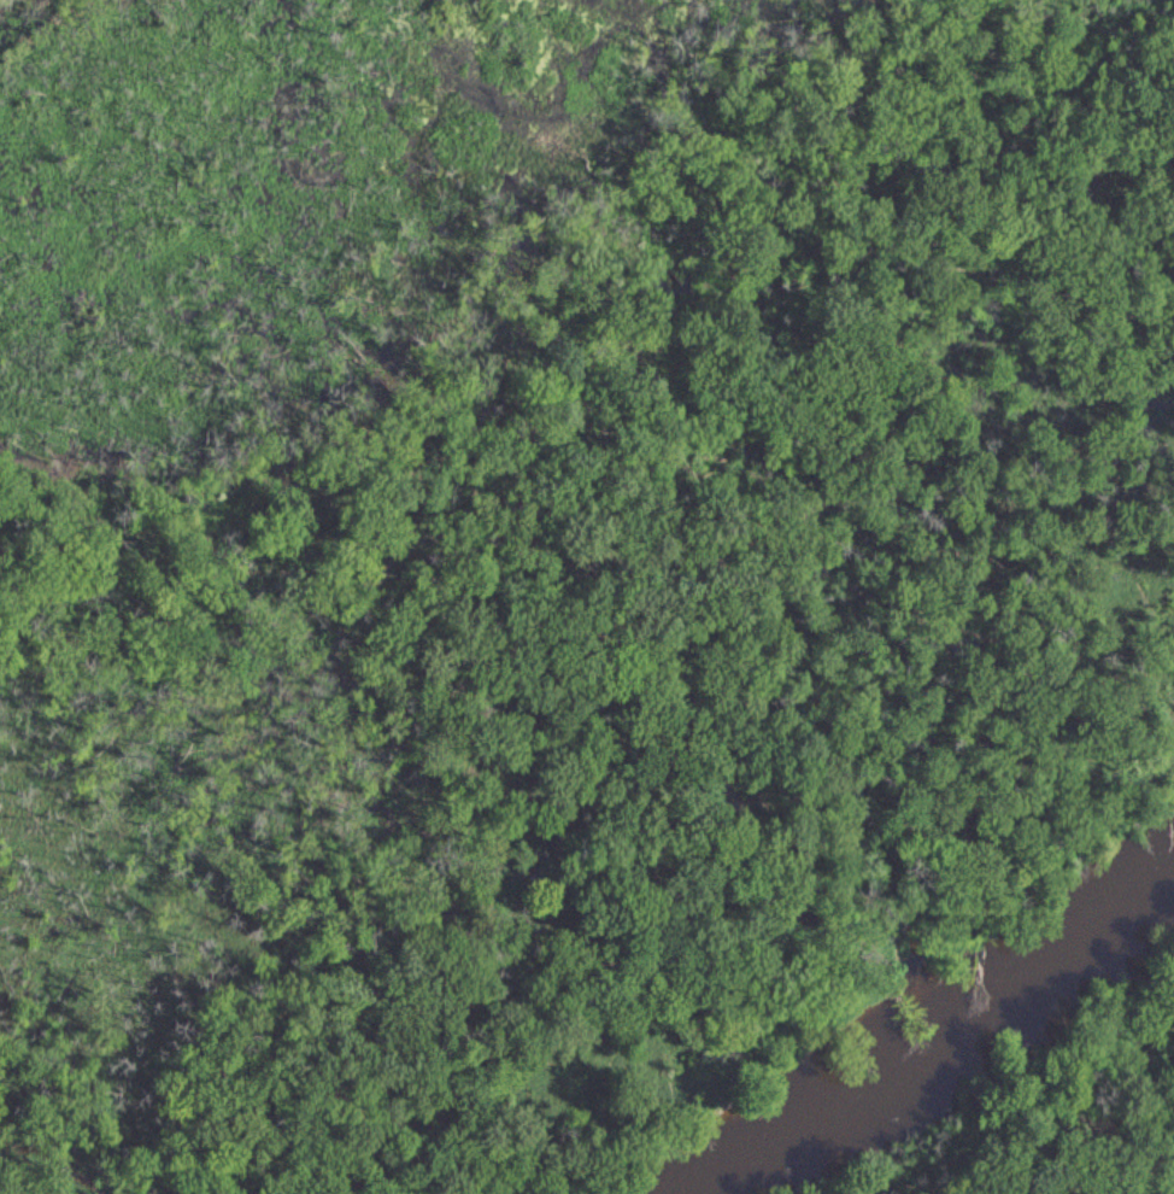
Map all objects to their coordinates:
river: (953, 1052)

